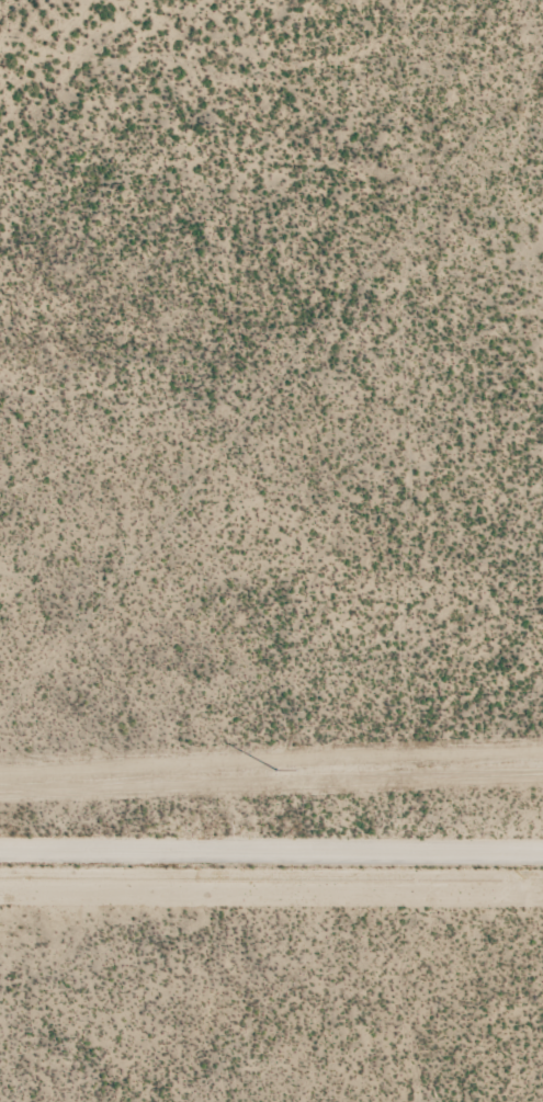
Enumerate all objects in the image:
power tower: (279, 771)
road: (271, 861)

